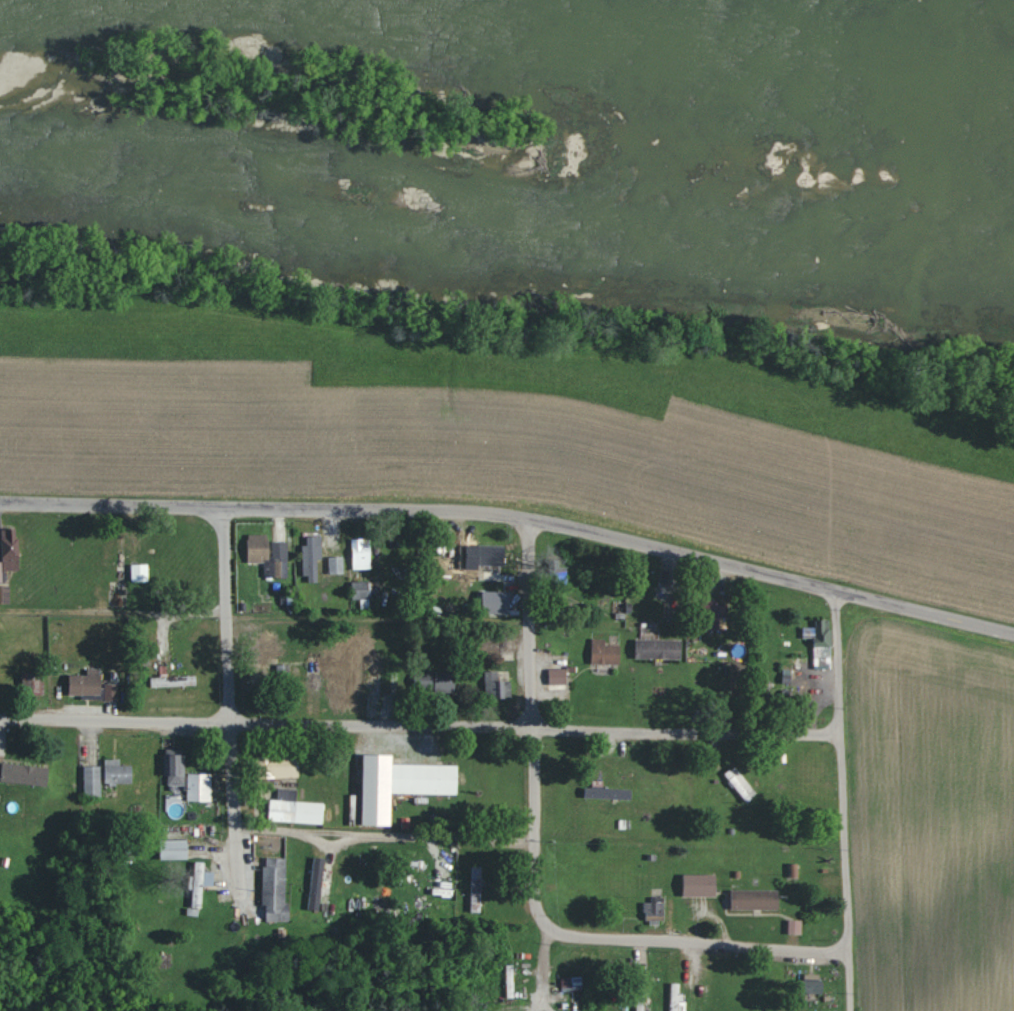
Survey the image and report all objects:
river: (117, 10)
river: (883, 39)
road: (513, 510)
building: (10, 548)
building: (268, 554)
building: (361, 554)
building: (491, 554)
building: (312, 558)
building: (336, 565)
building: (140, 572)
building: (3, 588)
building: (360, 589)
building: (497, 601)
building: (719, 609)
building: (820, 637)
building: (507, 644)
building: (659, 648)
building: (265, 651)
building: (604, 651)
building: (557, 675)
building: (174, 680)
building: (441, 680)
building: (86, 682)
building: (497, 685)
building: (111, 691)
road: (228, 694)
road: (419, 717)
road: (533, 736)
building: (280, 765)
building: (174, 768)
building: (117, 772)
building: (24, 774)
building: (92, 780)
building: (401, 783)
building: (740, 784)
building: (199, 786)
building: (608, 792)
road: (840, 796)
building: (295, 808)
road: (381, 837)
building: (175, 848)
building: (200, 883)
building: (316, 883)
building: (701, 884)
building: (275, 889)
building: (476, 889)
building: (755, 898)
building: (655, 909)
building: (795, 926)
road: (714, 938)
building: (572, 983)
building: (677, 996)

